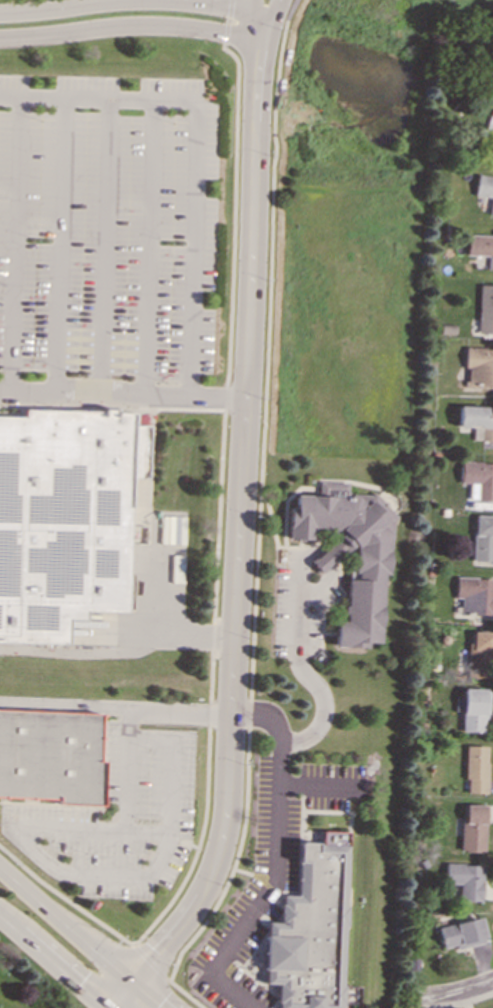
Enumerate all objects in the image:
road: (139, 2)
road: (257, 19)
road: (273, 19)
road: (227, 21)
road: (132, 27)
road: (191, 152)
building: (484, 189)
parking lot: (108, 230)
road: (14, 243)
road: (59, 243)
road: (102, 243)
building: (480, 246)
road: (146, 247)
building: (485, 309)
building: (479, 365)
road: (262, 372)
road: (122, 389)
road: (111, 408)
building: (477, 420)
building: (477, 478)
building: (63, 520)
road: (239, 526)
building: (482, 538)
road: (308, 552)
road: (323, 559)
road: (330, 569)
building: (367, 570)
road: (164, 578)
road: (215, 585)
road: (316, 590)
building: (474, 594)
road: (119, 650)
building: (478, 655)
road: (303, 667)
road: (116, 708)
building: (472, 708)
building: (50, 756)
road: (169, 767)
building: (474, 769)
building: (471, 828)
road: (23, 838)
road: (235, 857)
road: (273, 861)
road: (243, 871)
building: (464, 880)
road: (264, 884)
road: (66, 928)
building: (310, 929)
building: (460, 933)
road: (149, 961)
road: (51, 963)
traffic signals: (133, 986)
road: (185, 994)
road: (454, 996)
road: (122, 997)
road: (146, 997)

